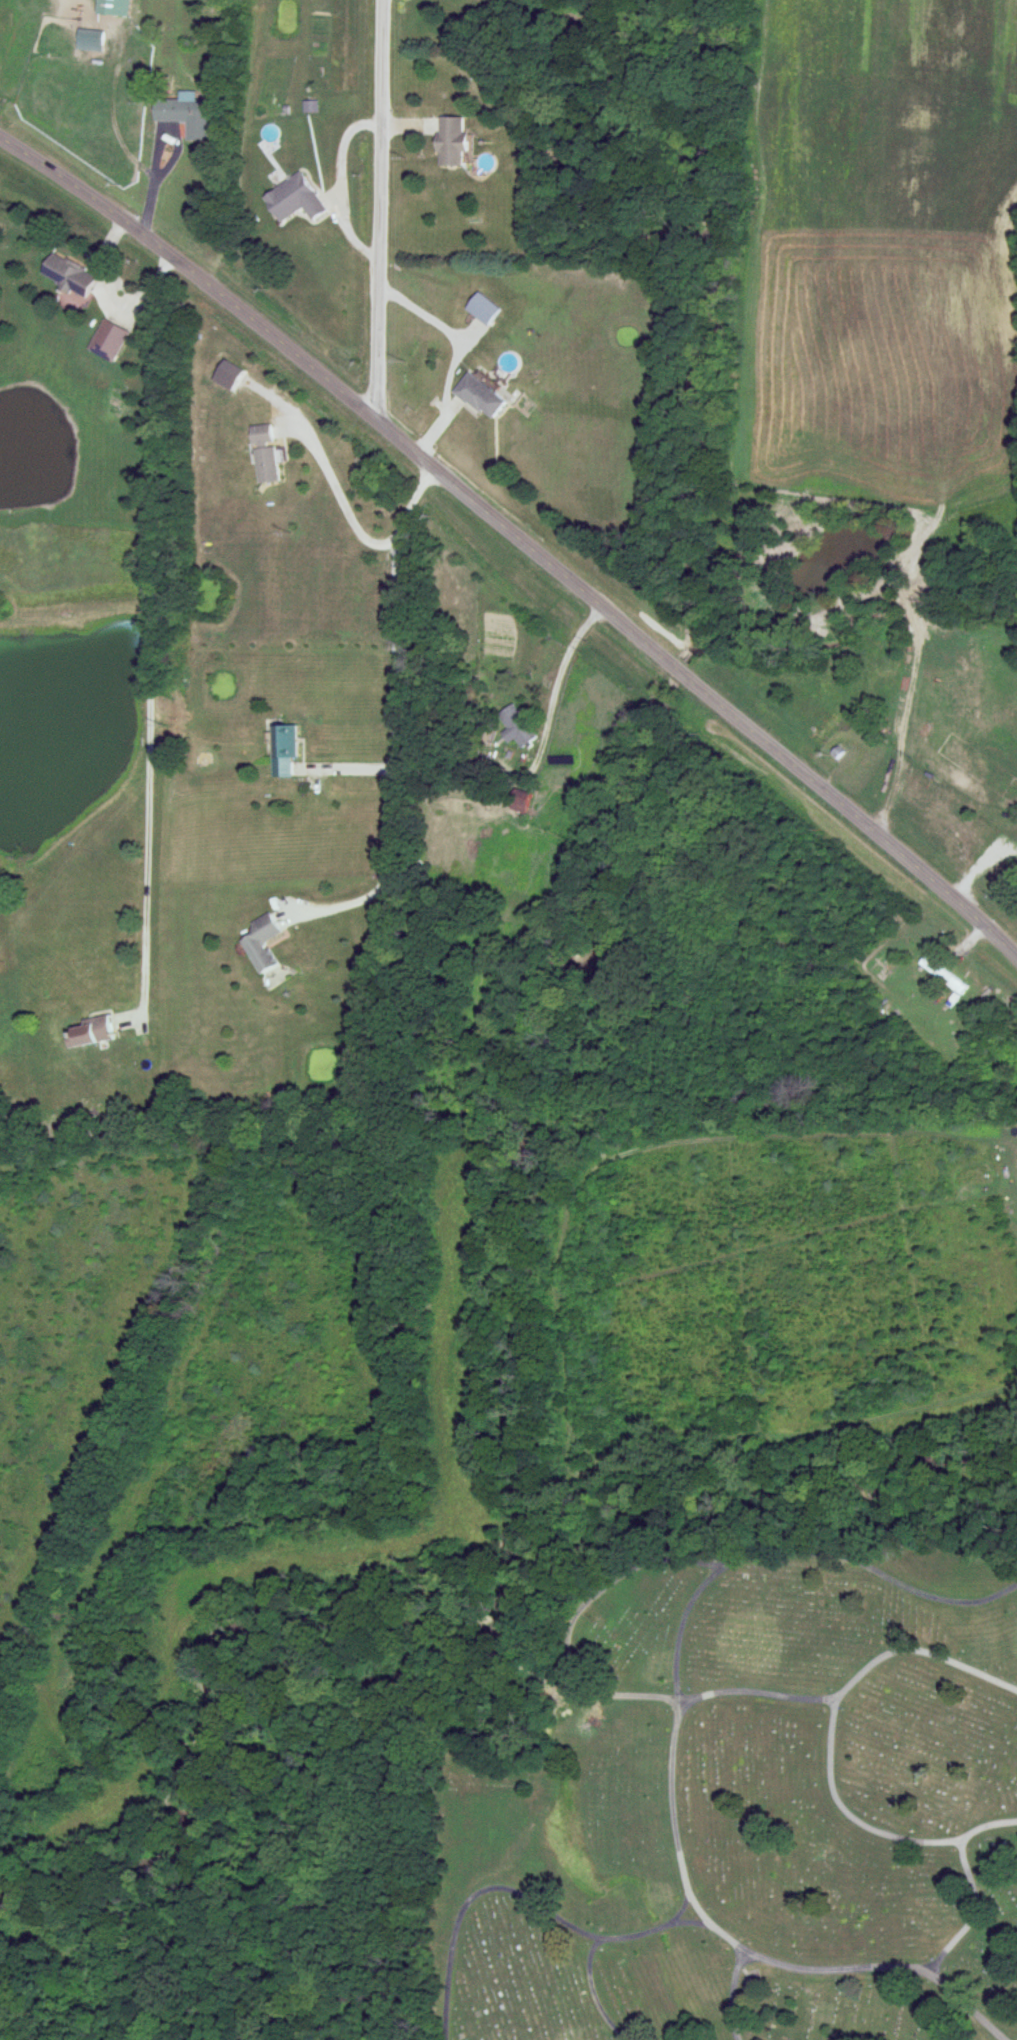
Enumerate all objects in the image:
building: (113, 7)
building: (90, 40)
building: (310, 107)
building: (187, 115)
building: (451, 141)
building: (294, 199)
road: (371, 204)
crop: (880, 250)
building: (68, 274)
building: (482, 308)
building: (108, 340)
building: (478, 396)
building: (265, 454)
road: (514, 538)
road: (152, 642)
road: (387, 662)
building: (514, 726)
building: (285, 751)
building: (517, 801)
building: (262, 942)
building: (942, 975)
building: (91, 1032)
road: (800, 1547)
road: (569, 1617)
road: (829, 1748)
park: (734, 1795)
road: (520, 1896)
road: (693, 1900)
road: (974, 1913)
road: (694, 1924)
road: (590, 1993)
road: (733, 1996)

